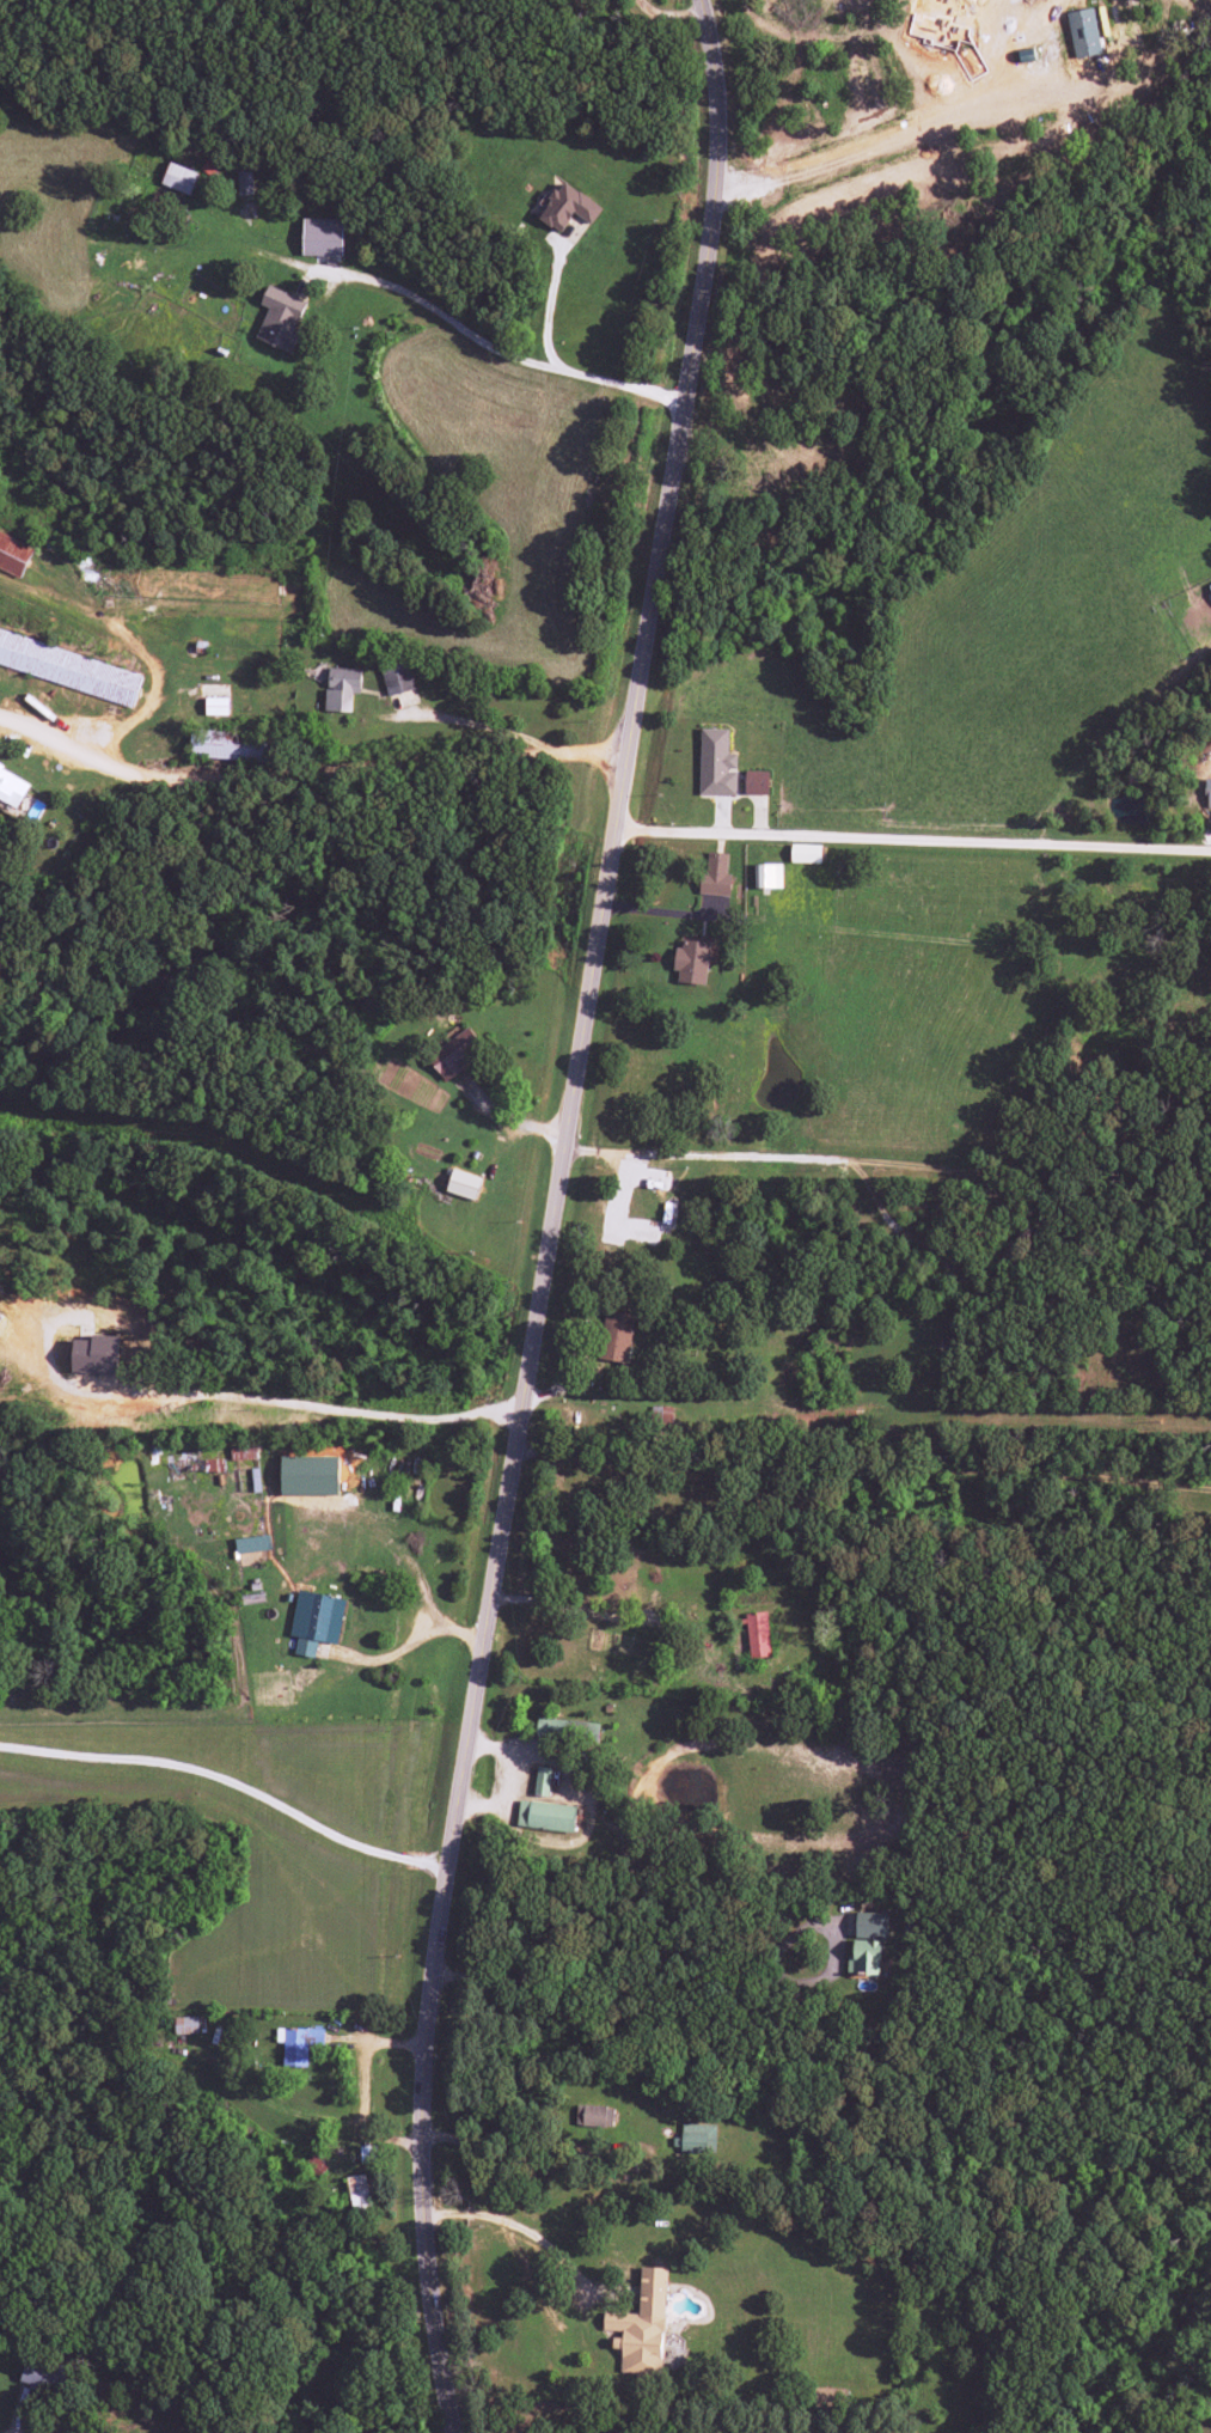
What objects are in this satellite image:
building: (1083, 32)
building: (179, 178)
building: (568, 207)
building: (322, 237)
road: (549, 292)
building: (280, 318)
road: (491, 348)
building: (14, 549)
building: (1210, 586)
building: (396, 676)
building: (342, 688)
building: (216, 706)
road: (477, 722)
building: (224, 745)
building: (716, 763)
road: (312, 774)
building: (756, 782)
building: (11, 787)
road: (917, 837)
building: (805, 853)
building: (715, 874)
building: (767, 876)
road: (850, 934)
building: (693, 961)
building: (455, 1053)
road: (907, 1166)
building: (463, 1184)
road: (550, 1213)
building: (0, 1317)
building: (614, 1336)
building: (94, 1355)
road: (343, 1385)
building: (660, 1417)
building: (243, 1451)
building: (252, 1544)
building: (316, 1621)
building: (757, 1635)
road: (778, 1669)
building: (567, 1730)
building: (542, 1781)
road: (233, 1783)
building: (545, 1816)
road: (656, 1964)
building: (185, 2025)
building: (298, 2044)
building: (594, 2116)
building: (697, 2139)
building: (357, 2193)
road: (522, 2230)
building: (641, 2325)
building: (43, 2376)

